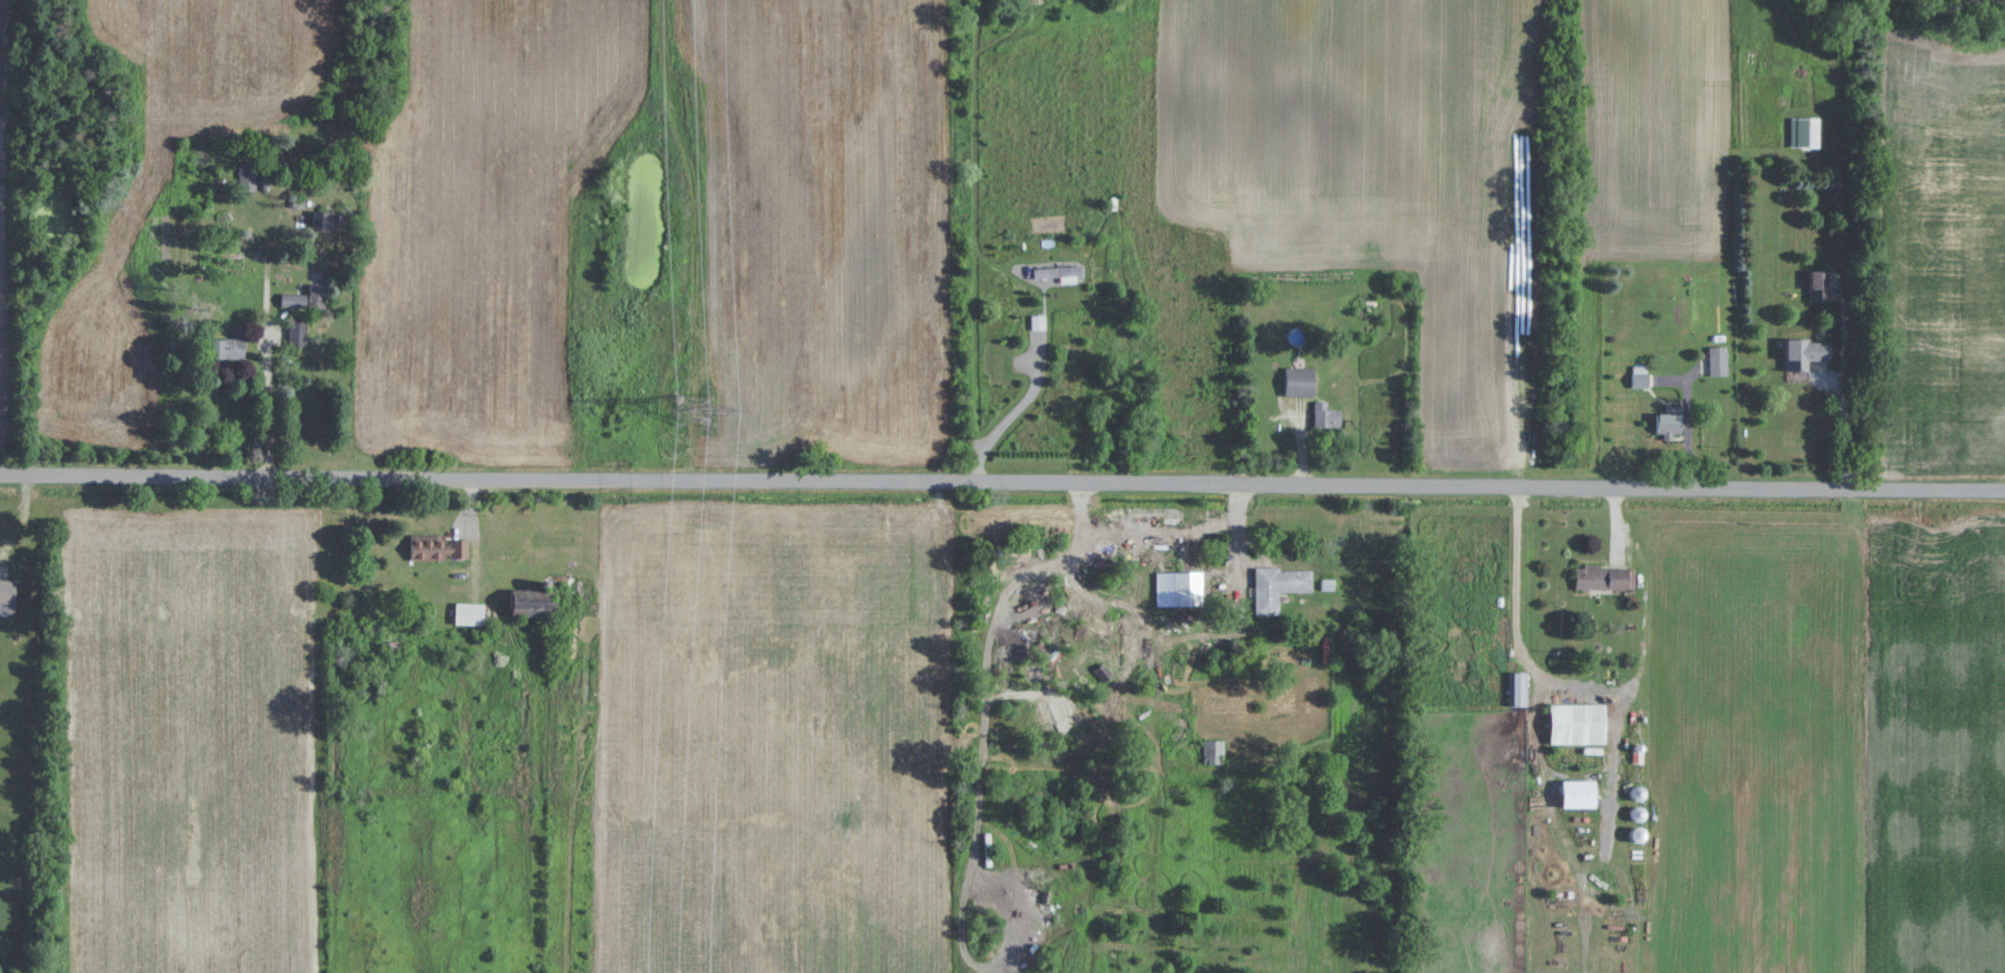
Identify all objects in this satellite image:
building: (250, 186)
building: (326, 222)
building: (1058, 274)
building: (1819, 285)
building: (317, 297)
building: (291, 301)
building: (1037, 322)
building: (299, 334)
building: (228, 346)
building: (1803, 357)
building: (1639, 376)
building: (1299, 382)
road: (266, 400)
power tower: (692, 410)
road: (1018, 413)
building: (1325, 416)
building: (1670, 420)
road: (1844, 421)
road: (1002, 483)
building: (439, 549)
building: (1605, 578)
building: (1278, 588)
building: (1179, 590)
building: (8, 598)
building: (535, 608)
road: (1514, 608)
building: (469, 615)
building: (1041, 651)
building: (1518, 690)
building: (1579, 724)
building: (1212, 750)
building: (1580, 794)

